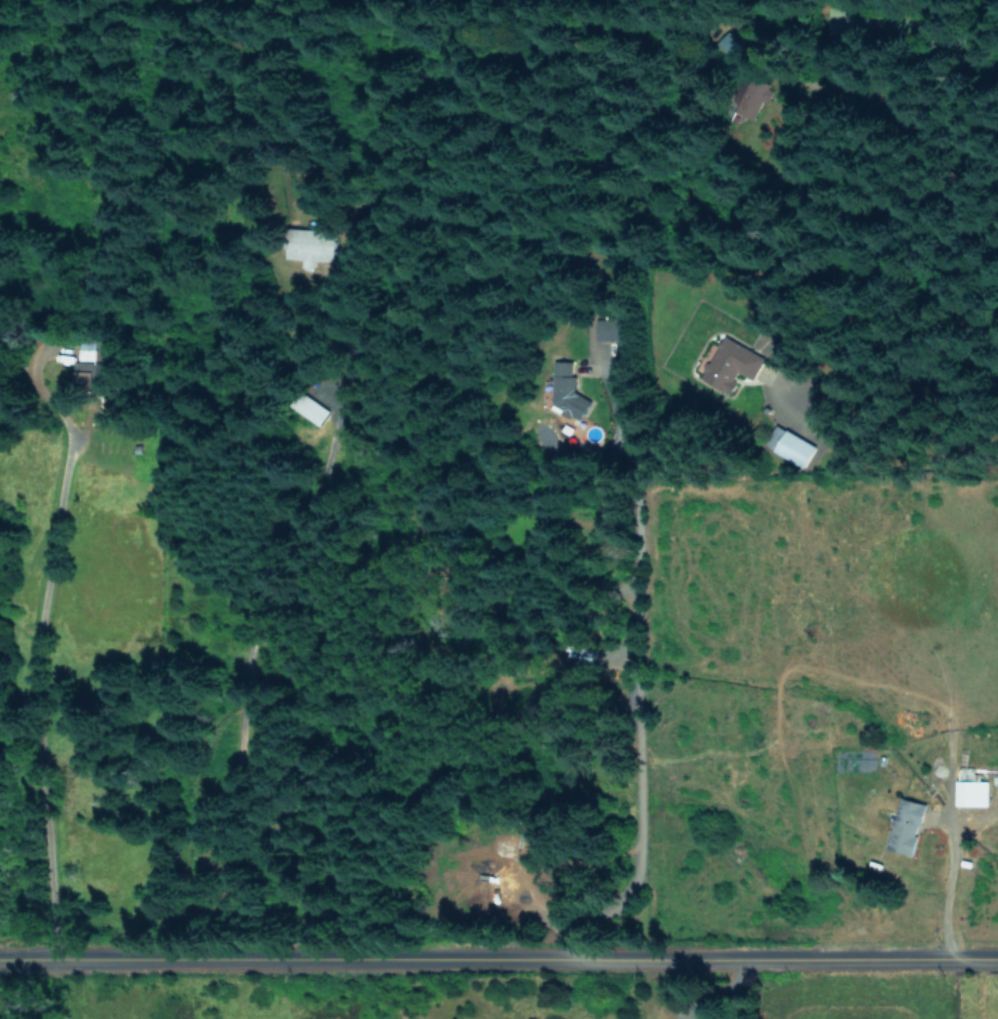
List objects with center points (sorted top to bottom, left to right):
building: (310, 246)
building: (731, 364)
building: (84, 372)
building: (568, 396)
building: (310, 408)
building: (789, 445)
road: (628, 680)
road: (38, 694)
building: (971, 792)
building: (905, 825)
road: (940, 876)
road: (499, 957)

